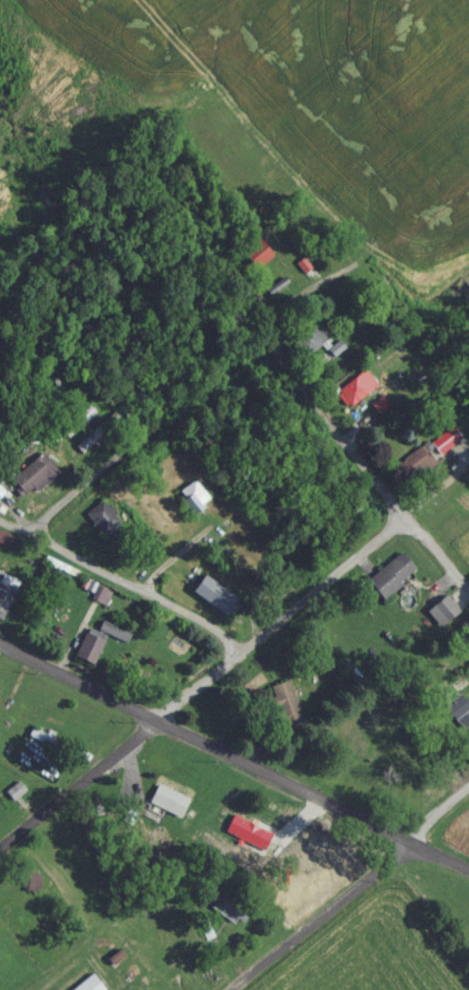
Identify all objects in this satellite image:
building: (259, 264)
road: (219, 278)
building: (314, 348)
building: (351, 399)
building: (135, 401)
building: (78, 429)
building: (86, 448)
road: (124, 450)
building: (449, 451)
building: (413, 472)
road: (365, 476)
building: (34, 482)
building: (192, 504)
building: (101, 525)
building: (390, 582)
road: (121, 585)
building: (5, 599)
road: (467, 600)
building: (213, 603)
building: (441, 618)
building: (88, 653)
road: (231, 659)
building: (286, 713)
building: (457, 719)
building: (468, 741)
road: (205, 752)
building: (167, 808)
building: (248, 840)
road: (440, 864)
building: (327, 879)
building: (26, 885)
road: (355, 894)
building: (224, 914)
building: (89, 987)

